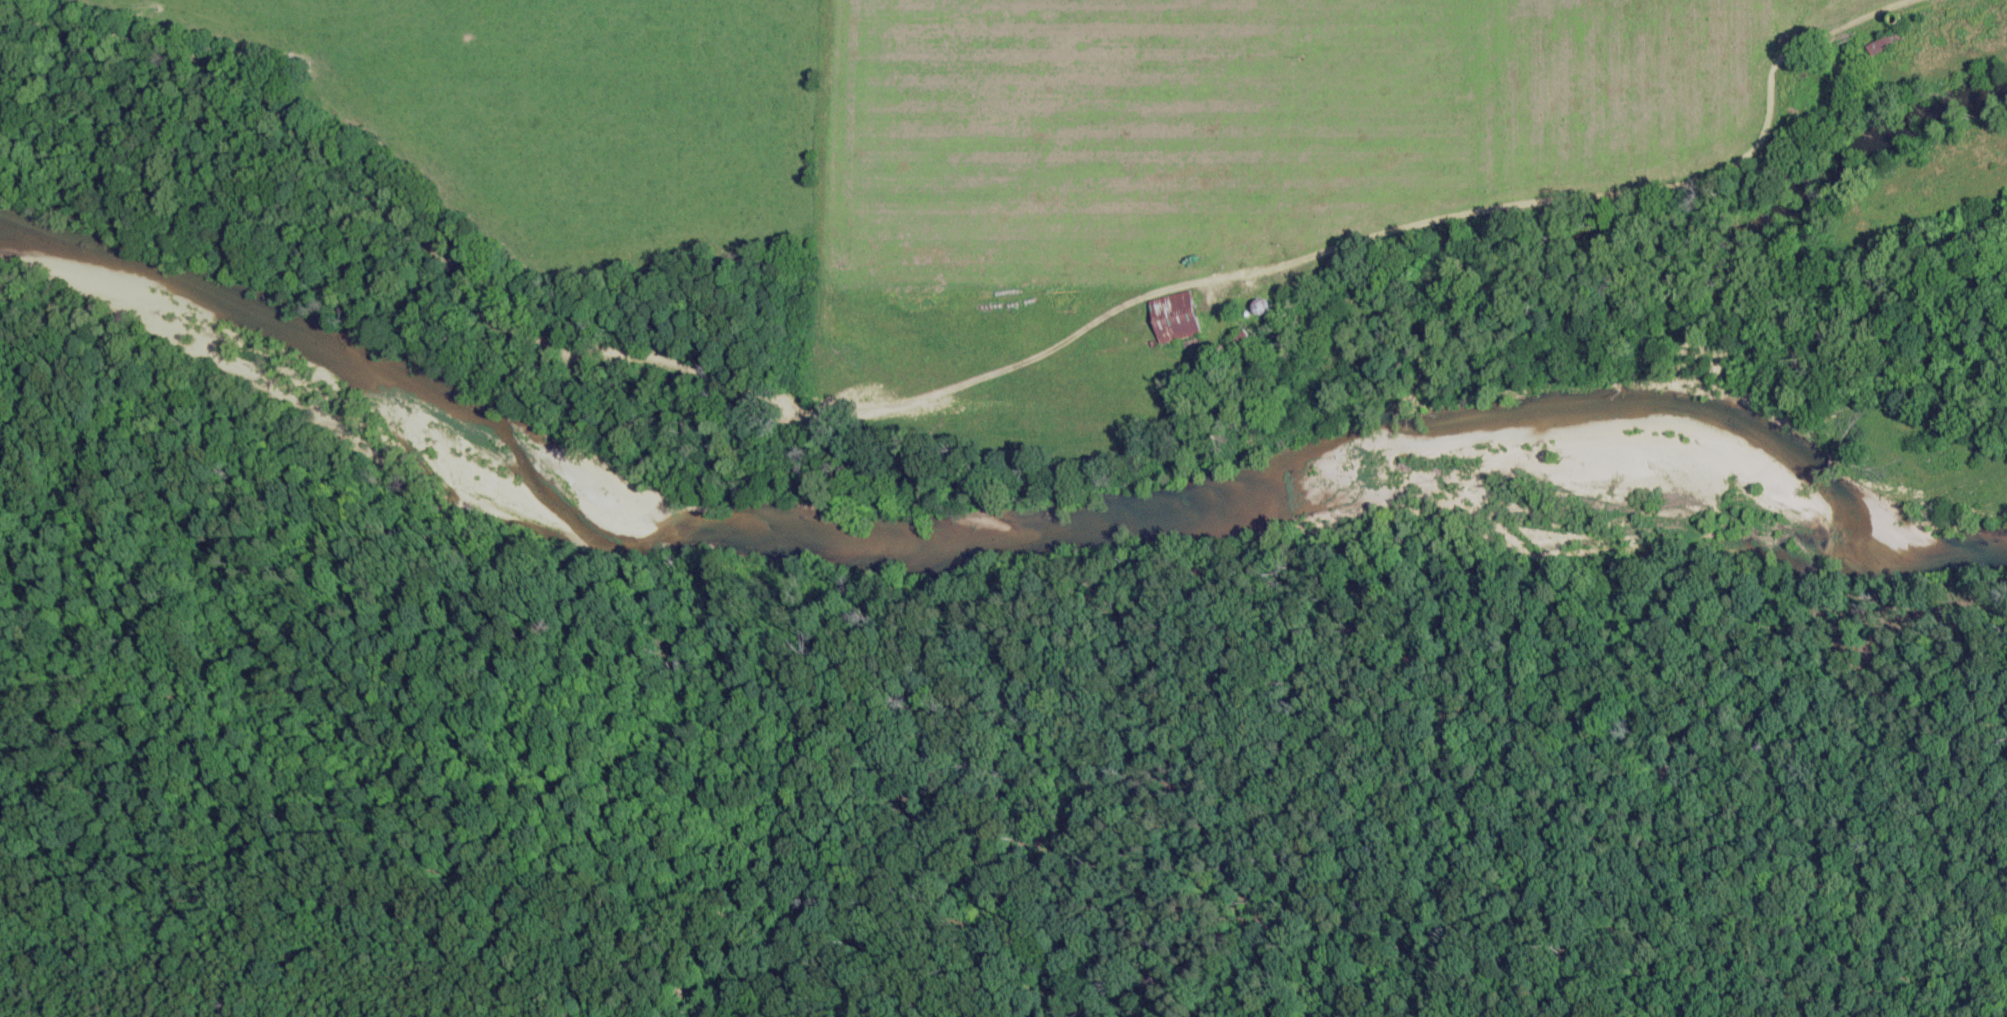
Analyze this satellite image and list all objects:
road: (389, 212)
building: (1177, 319)

